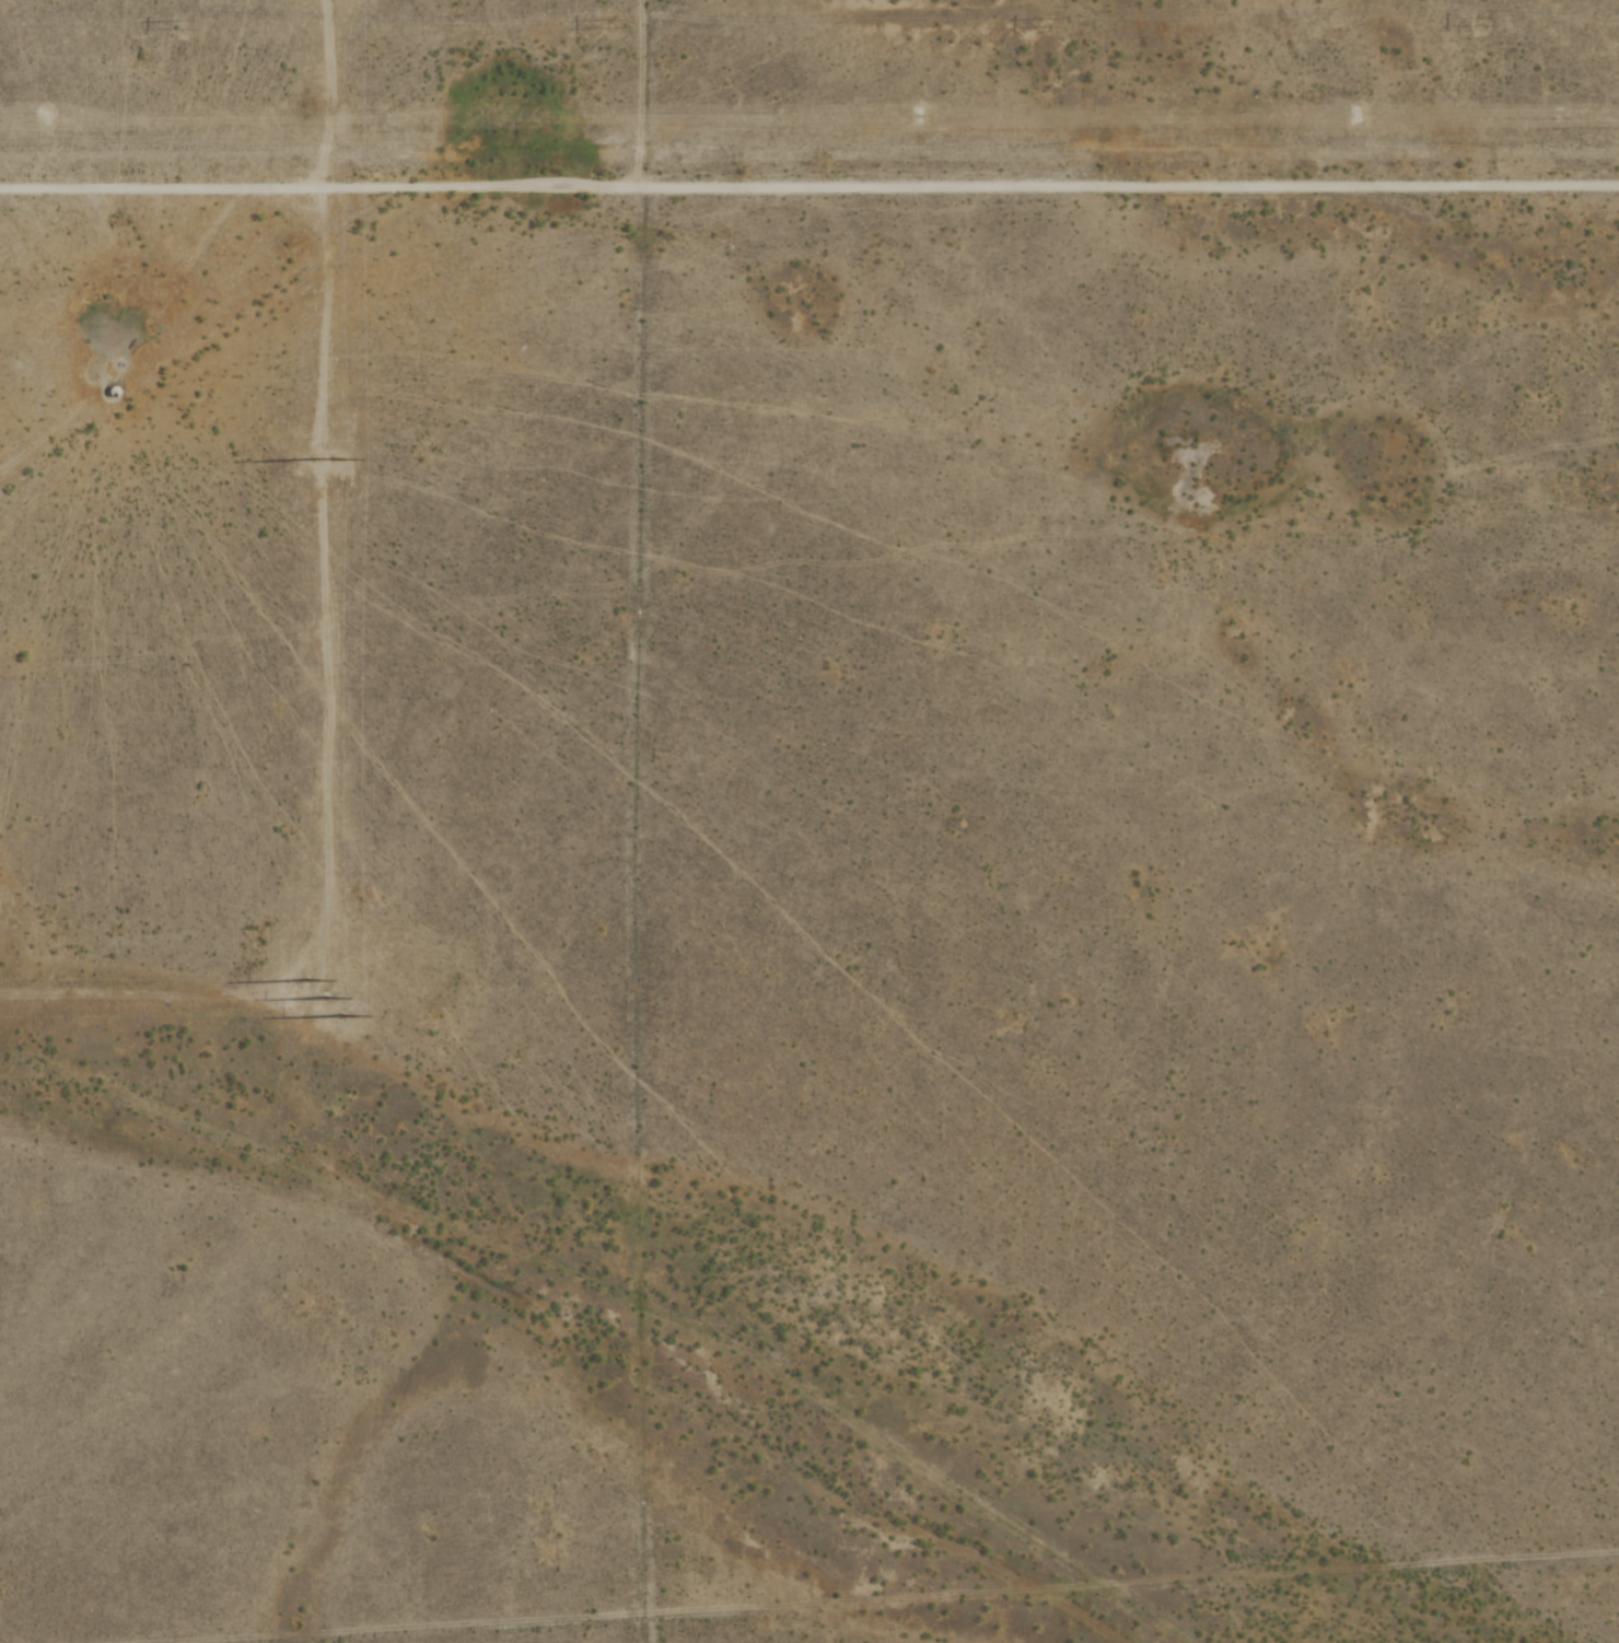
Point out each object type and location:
power tower: (1048, 22)
power tower: (1477, 22)
power tower: (175, 24)
power tower: (608, 24)
power tower: (918, 116)
power tower: (1355, 116)
power tower: (43, 118)
power tower: (484, 118)
power tower: (315, 458)
power tower: (318, 998)

